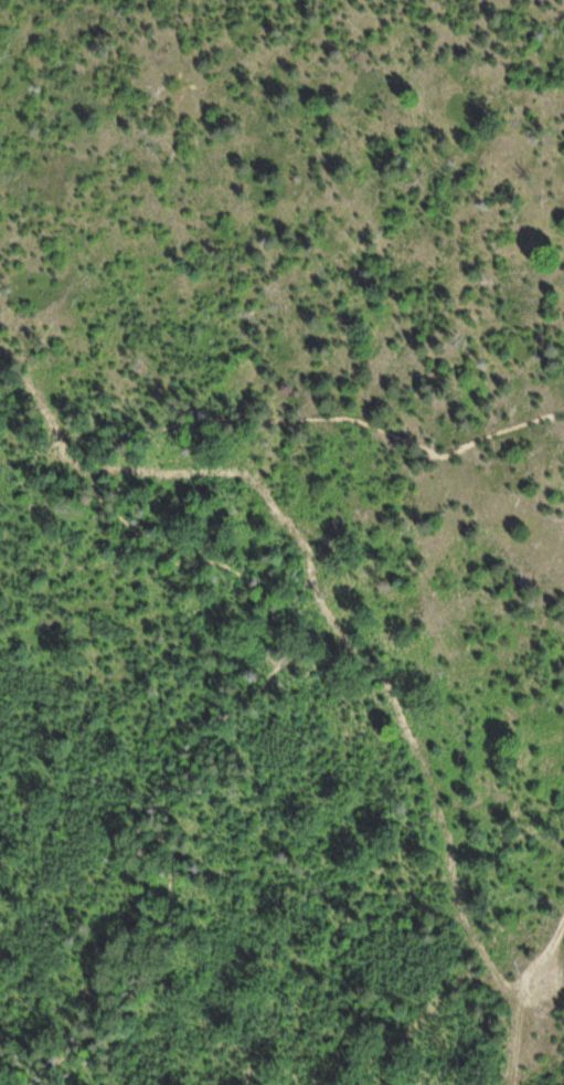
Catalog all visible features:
road: (47, 418)
road: (217, 569)
road: (398, 681)
road: (538, 1005)

